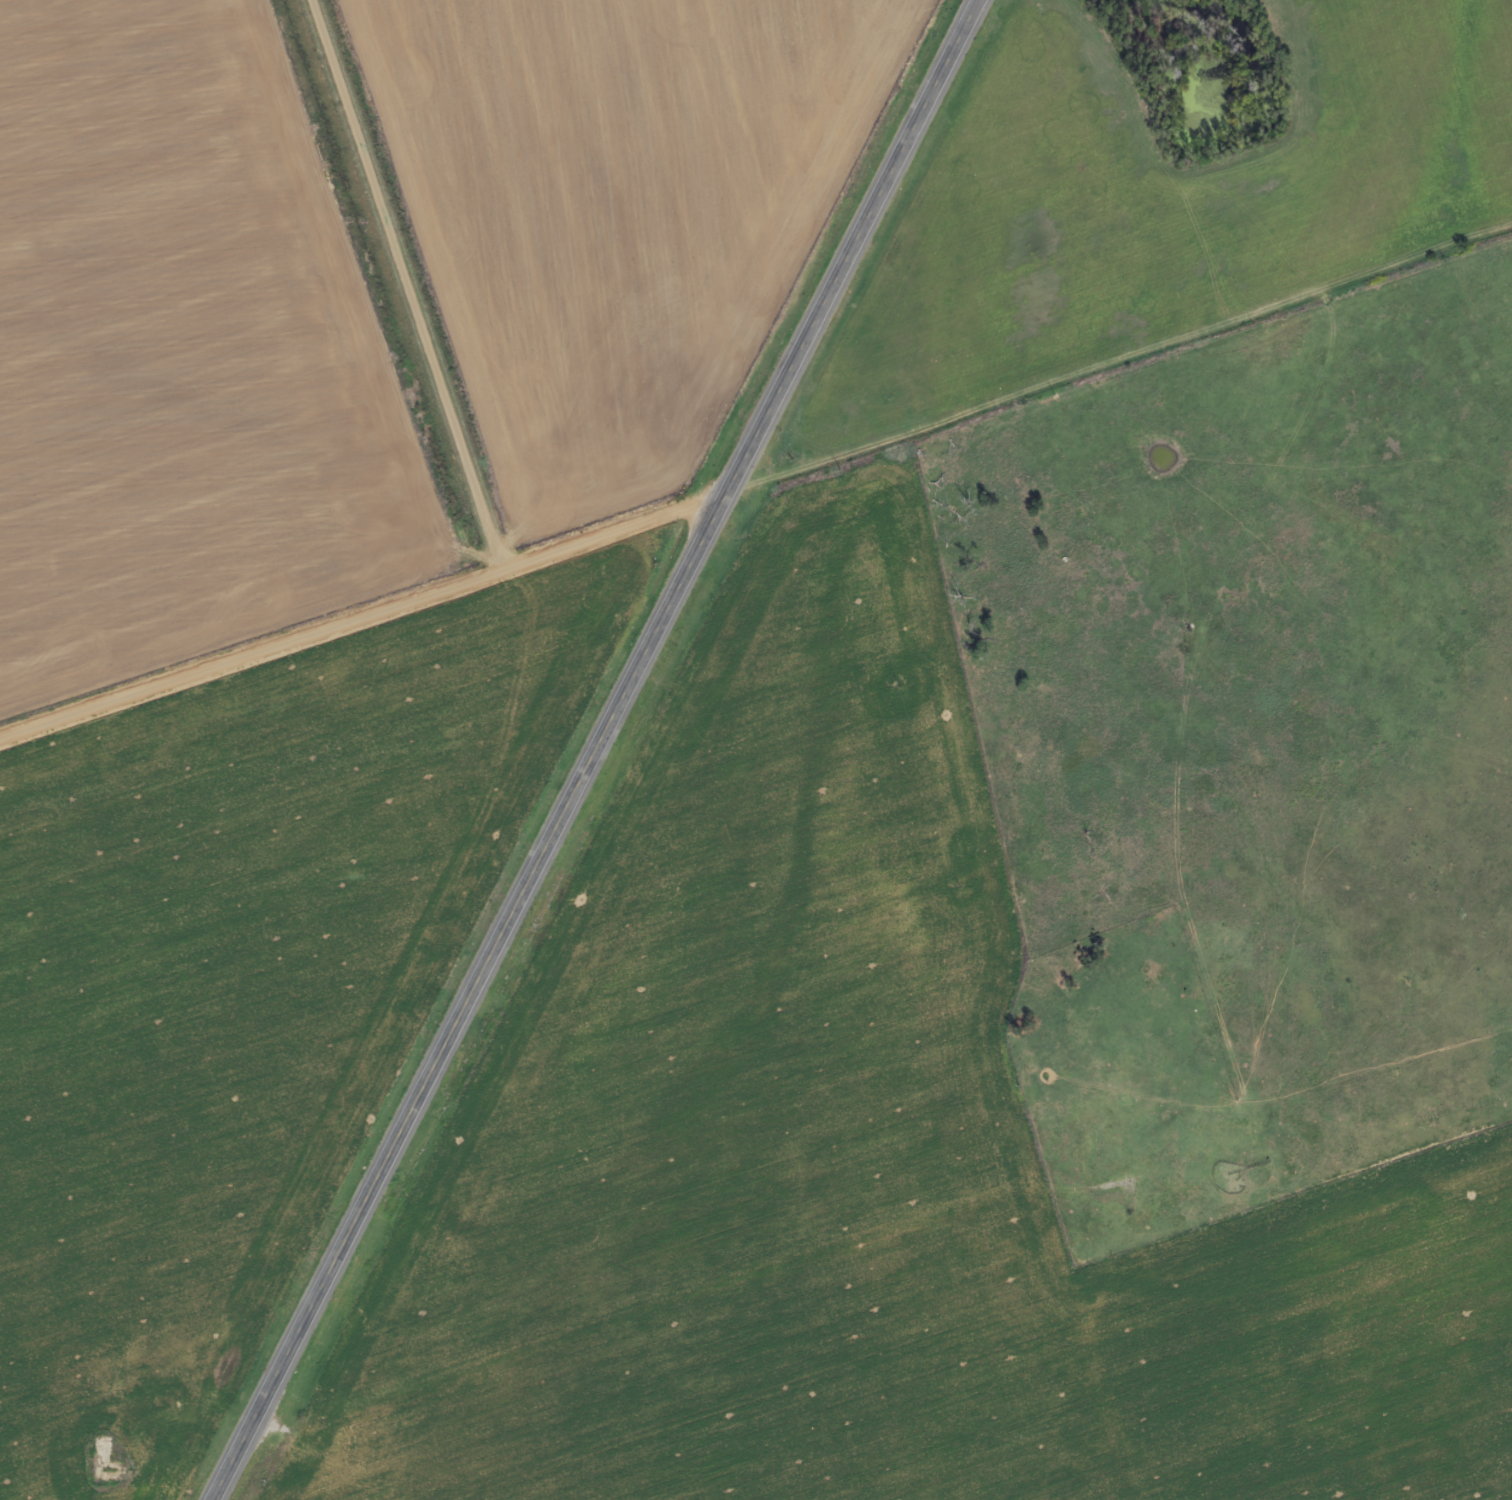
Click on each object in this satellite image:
road: (410, 283)
road: (757, 482)
road: (594, 749)
road: (830, 1230)

